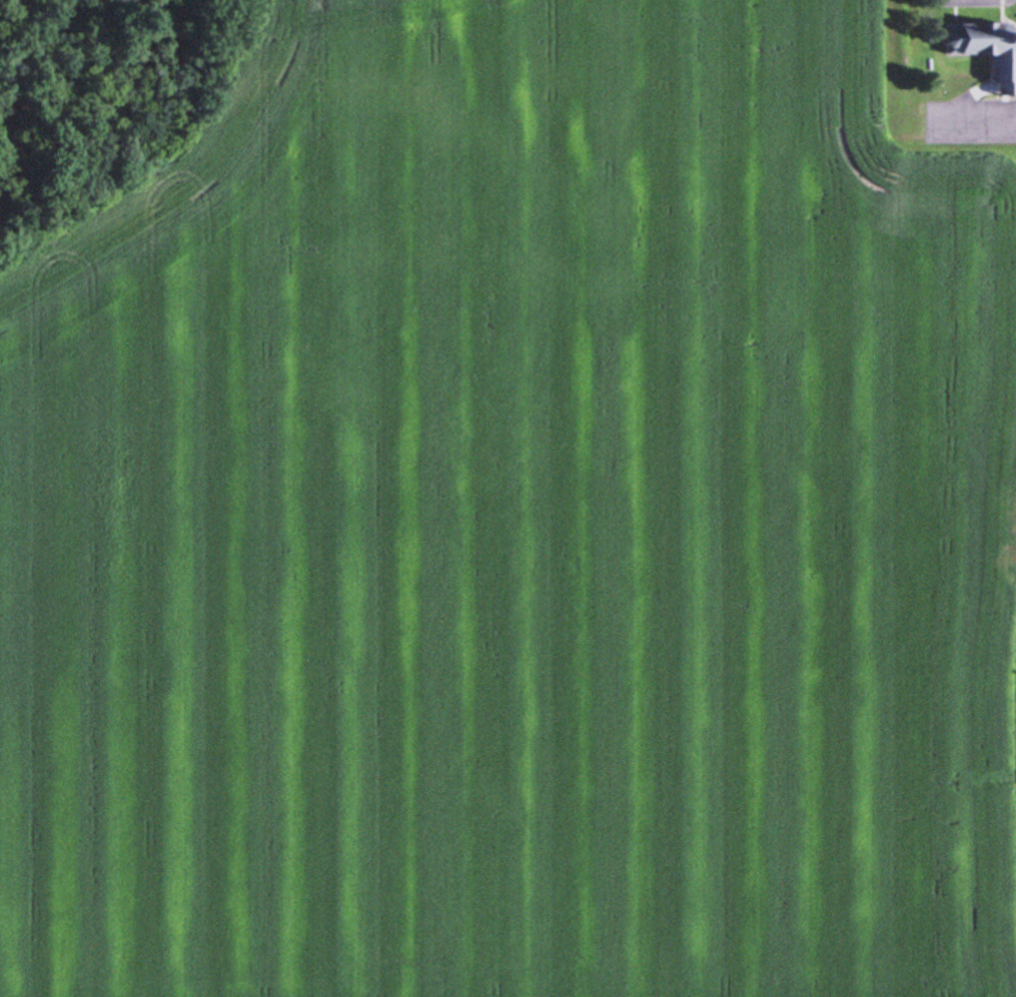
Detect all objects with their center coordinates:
building: (978, 53)

